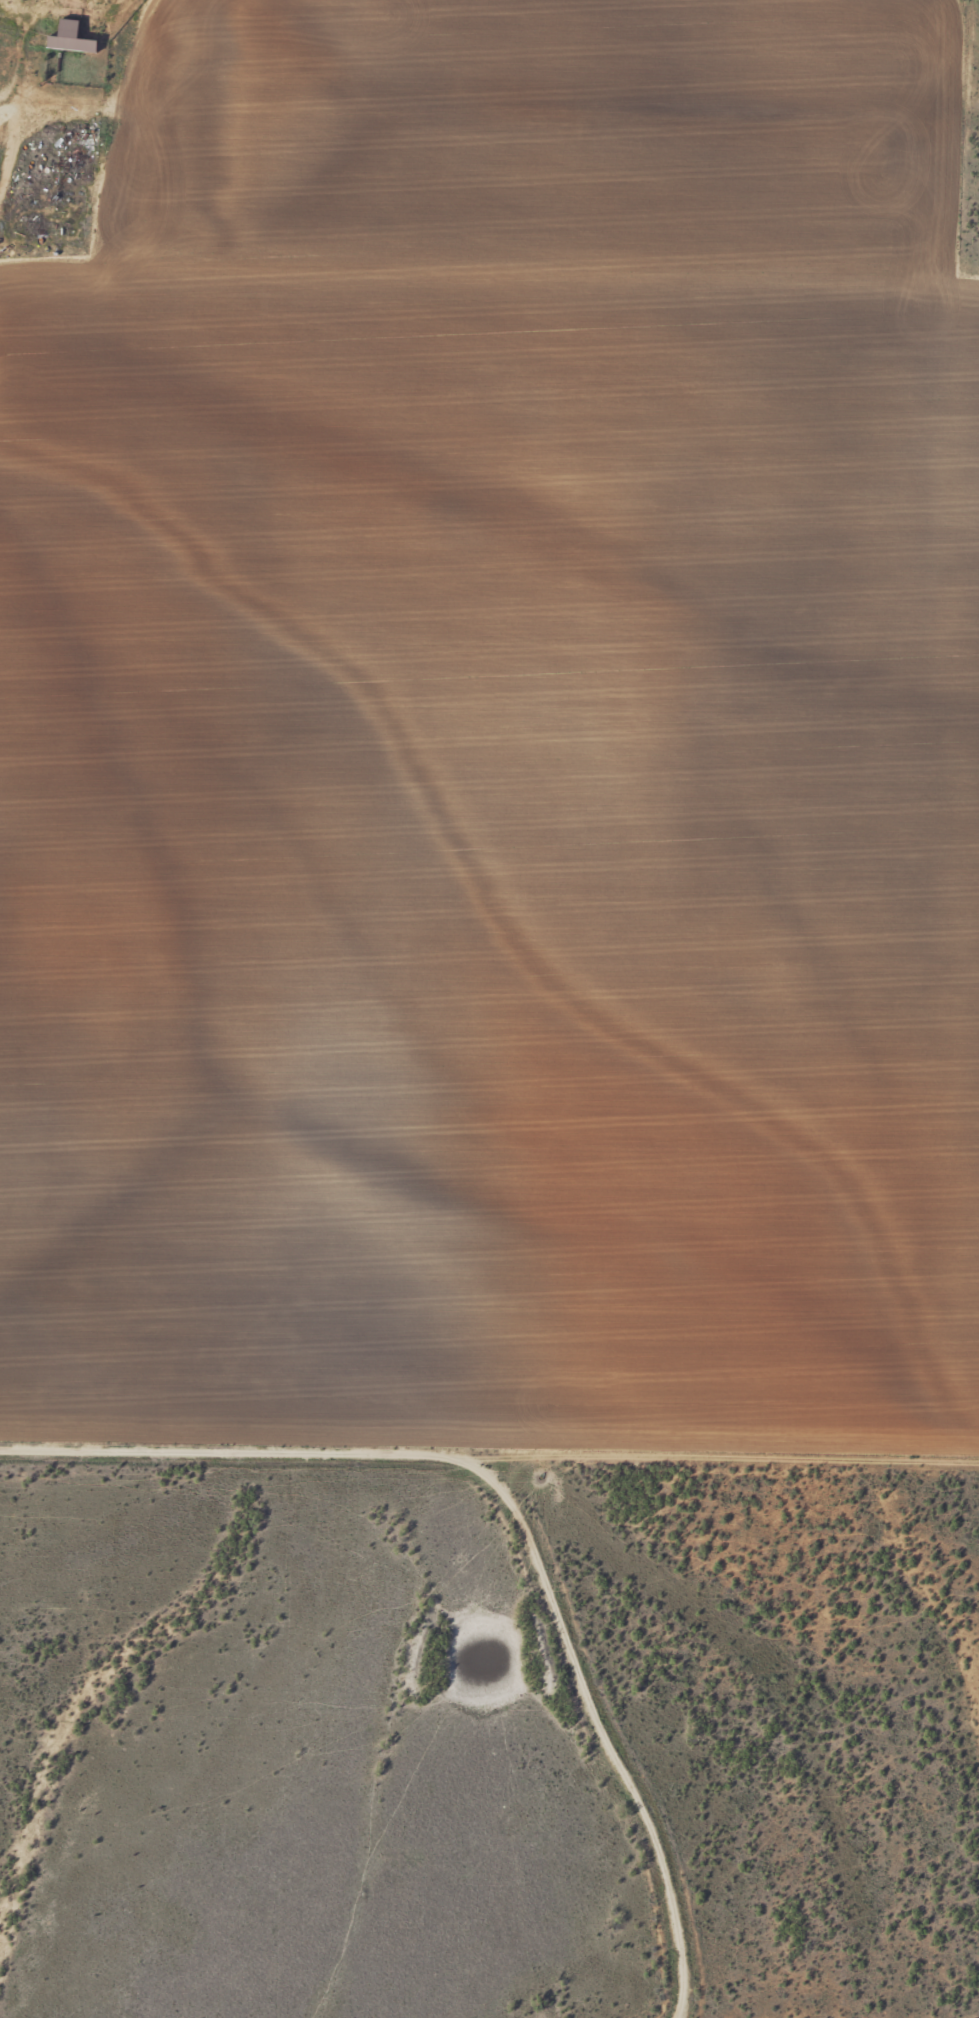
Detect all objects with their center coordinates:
building: (68, 38)
road: (120, 149)
road: (489, 1459)
road: (580, 1738)

